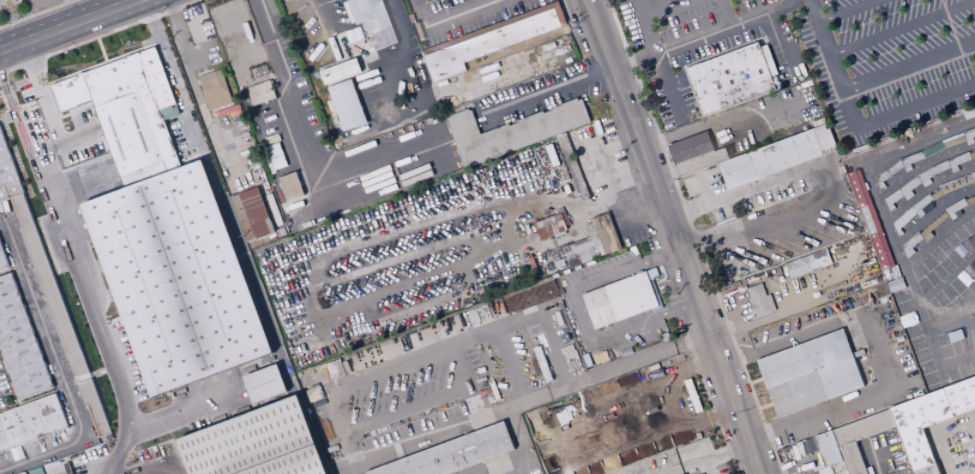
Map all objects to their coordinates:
road: (102, 6)
road: (665, 8)
road: (847, 11)
road: (725, 13)
road: (39, 14)
road: (418, 14)
road: (460, 14)
building: (371, 21)
road: (70, 25)
road: (902, 28)
road: (706, 35)
road: (97, 36)
road: (778, 46)
road: (661, 64)
building: (339, 71)
building: (731, 77)
road: (864, 81)
road: (419, 85)
building: (214, 89)
building: (260, 92)
road: (550, 93)
road: (290, 94)
building: (346, 104)
building: (968, 109)
road: (897, 111)
road: (722, 115)
building: (511, 131)
building: (969, 135)
building: (739, 138)
building: (952, 140)
building: (932, 149)
building: (696, 153)
building: (971, 153)
building: (769, 159)
road: (829, 160)
building: (910, 160)
building: (957, 160)
road: (923, 166)
building: (974, 170)
building: (7, 172)
building: (931, 172)
building: (887, 173)
building: (972, 177)
building: (954, 183)
building: (290, 186)
building: (908, 187)
road: (927, 188)
road: (703, 189)
building: (934, 193)
road: (627, 195)
building: (970, 198)
building: (891, 199)
road: (558, 203)
building: (920, 204)
building: (954, 207)
road: (932, 212)
building: (253, 217)
road: (884, 217)
building: (869, 219)
building: (902, 219)
building: (551, 225)
building: (931, 225)
road: (672, 236)
road: (694, 236)
road: (937, 237)
building: (592, 241)
building: (910, 244)
building: (818, 258)
road: (245, 259)
road: (80, 260)
building: (974, 260)
building: (2, 262)
building: (797, 267)
building: (188, 271)
road: (946, 278)
building: (974, 280)
building: (620, 300)
building: (759, 301)
road: (737, 305)
road: (960, 314)
road: (580, 315)
road: (970, 337)
building: (19, 343)
road: (881, 347)
road: (435, 353)
road: (936, 358)
building: (334, 367)
road: (510, 367)
road: (59, 369)
road: (608, 371)
building: (809, 373)
building: (264, 383)
road: (464, 384)
road: (405, 410)
building: (928, 420)
building: (31, 423)
road: (461, 426)
building: (862, 428)
road: (970, 430)
building: (259, 443)
building: (826, 448)
road: (939, 451)
building: (454, 453)
road: (874, 457)
building: (851, 459)
road: (790, 465)
road: (496, 467)
building: (841, 472)

